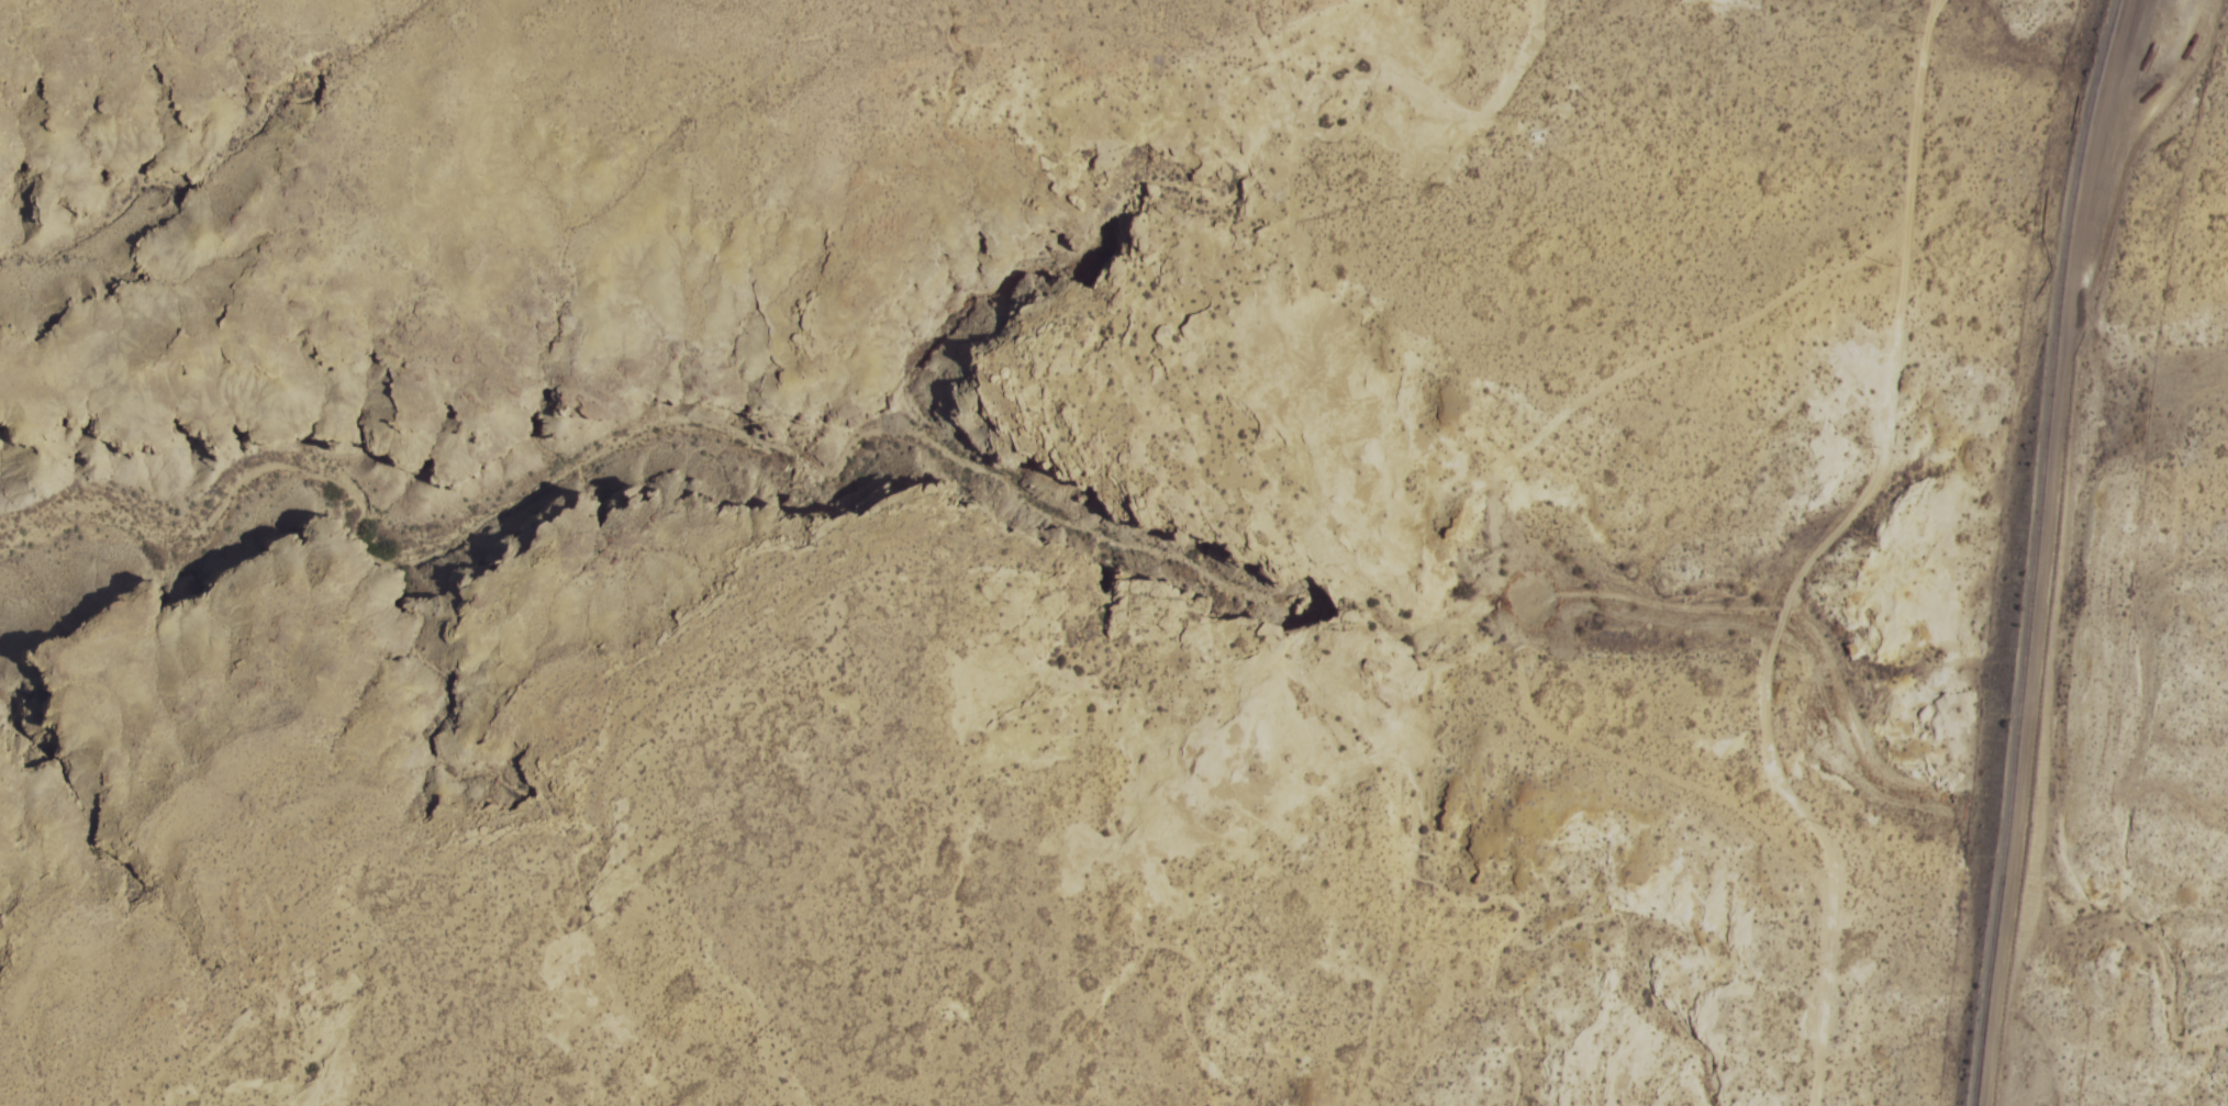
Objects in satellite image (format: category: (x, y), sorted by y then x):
railway: (2040, 550)
road: (1891, 552)

